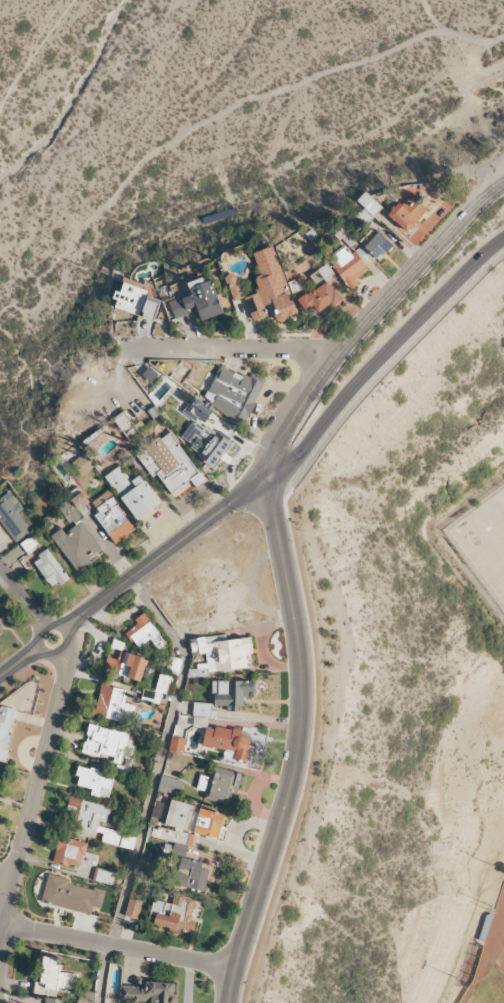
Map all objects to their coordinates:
road: (438, 22)
road: (36, 50)
road: (1, 103)
road: (221, 113)
park: (205, 139)
building: (367, 207)
building: (407, 213)
building: (378, 245)
building: (348, 266)
building: (321, 274)
building: (233, 286)
building: (320, 297)
building: (130, 298)
building: (198, 300)
building: (150, 307)
road: (231, 349)
road: (383, 361)
road: (391, 364)
building: (233, 393)
building: (198, 410)
building: (126, 425)
building: (204, 441)
building: (169, 462)
building: (82, 465)
building: (133, 492)
building: (75, 506)
building: (12, 516)
building: (112, 517)
building: (76, 545)
road: (164, 553)
road: (281, 553)
building: (50, 569)
road: (21, 599)
building: (1, 626)
road: (57, 626)
building: (145, 633)
building: (220, 653)
road: (20, 662)
building: (129, 665)
building: (162, 683)
building: (230, 693)
building: (113, 704)
building: (202, 709)
building: (6, 729)
building: (226, 741)
building: (107, 743)
building: (177, 744)
road: (310, 746)
road: (41, 771)
building: (0, 774)
building: (95, 781)
road: (154, 783)
building: (170, 785)
building: (219, 786)
building: (98, 822)
building: (73, 853)
building: (191, 875)
building: (103, 876)
road: (5, 890)
building: (70, 895)
building: (133, 908)
road: (7, 909)
building: (173, 914)
road: (1, 926)
road: (1, 939)
road: (118, 947)
park: (490, 962)
building: (54, 977)
building: (148, 992)
building: (54, 1000)

